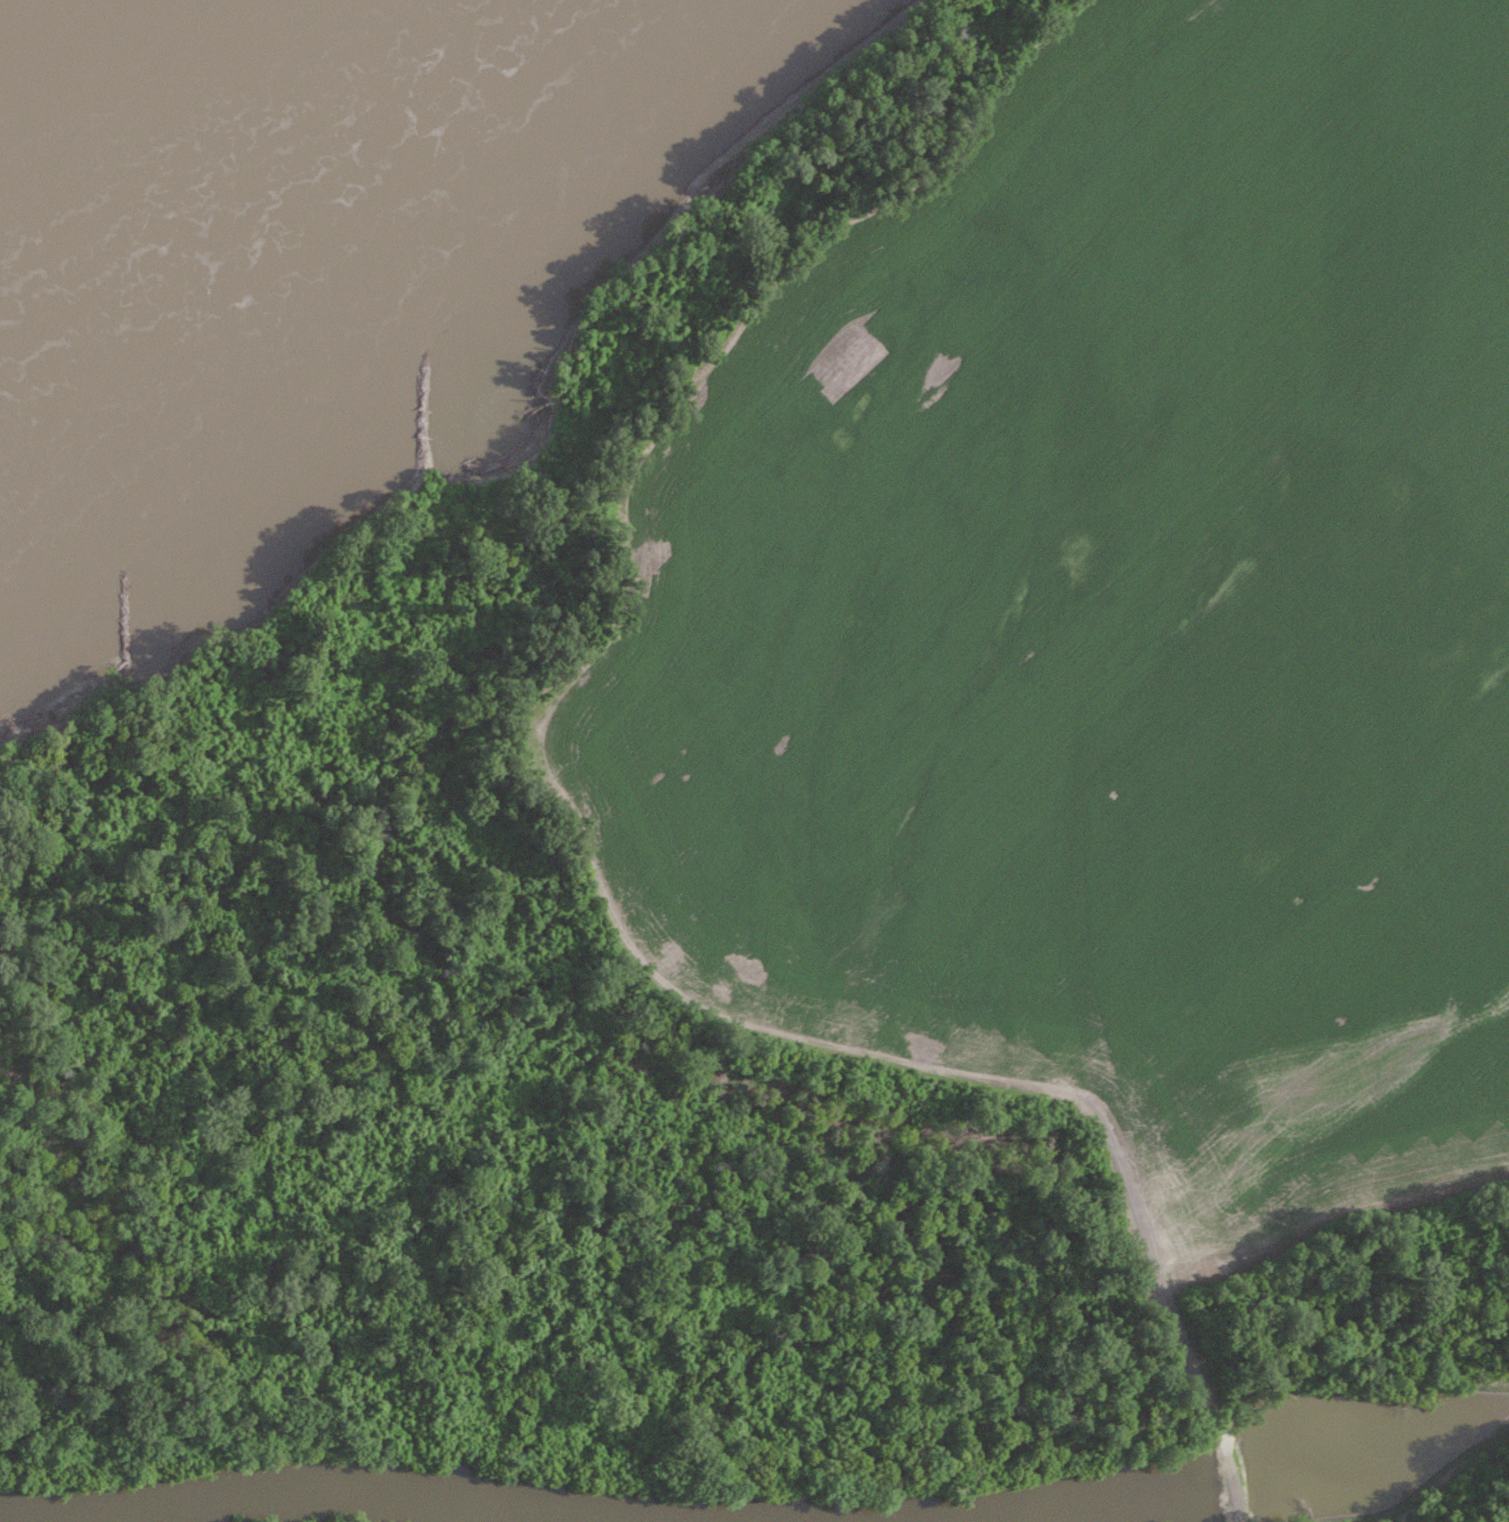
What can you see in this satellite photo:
river: (112, 66)
crop: (1101, 619)

